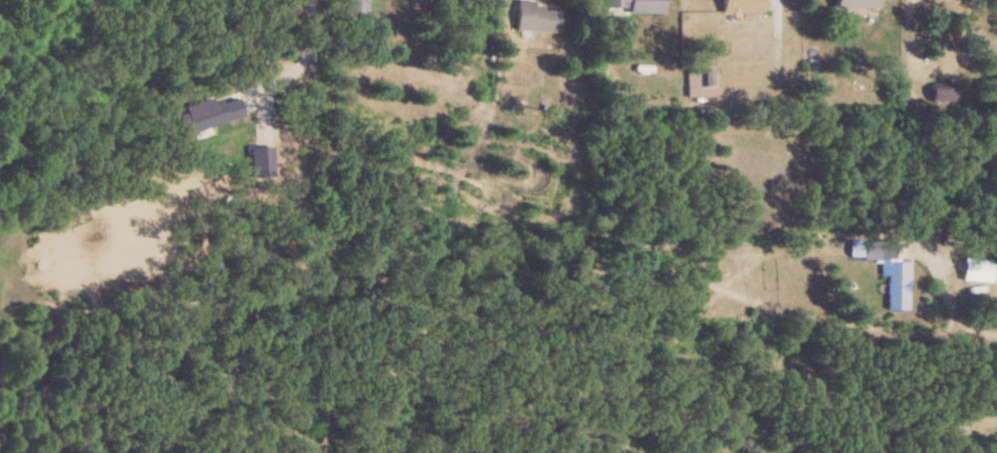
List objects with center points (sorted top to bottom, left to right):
building: (856, 4)
building: (743, 5)
building: (634, 6)
building: (354, 13)
building: (535, 17)
road: (307, 58)
building: (700, 82)
building: (943, 95)
building: (976, 270)
building: (889, 272)
road: (945, 305)

